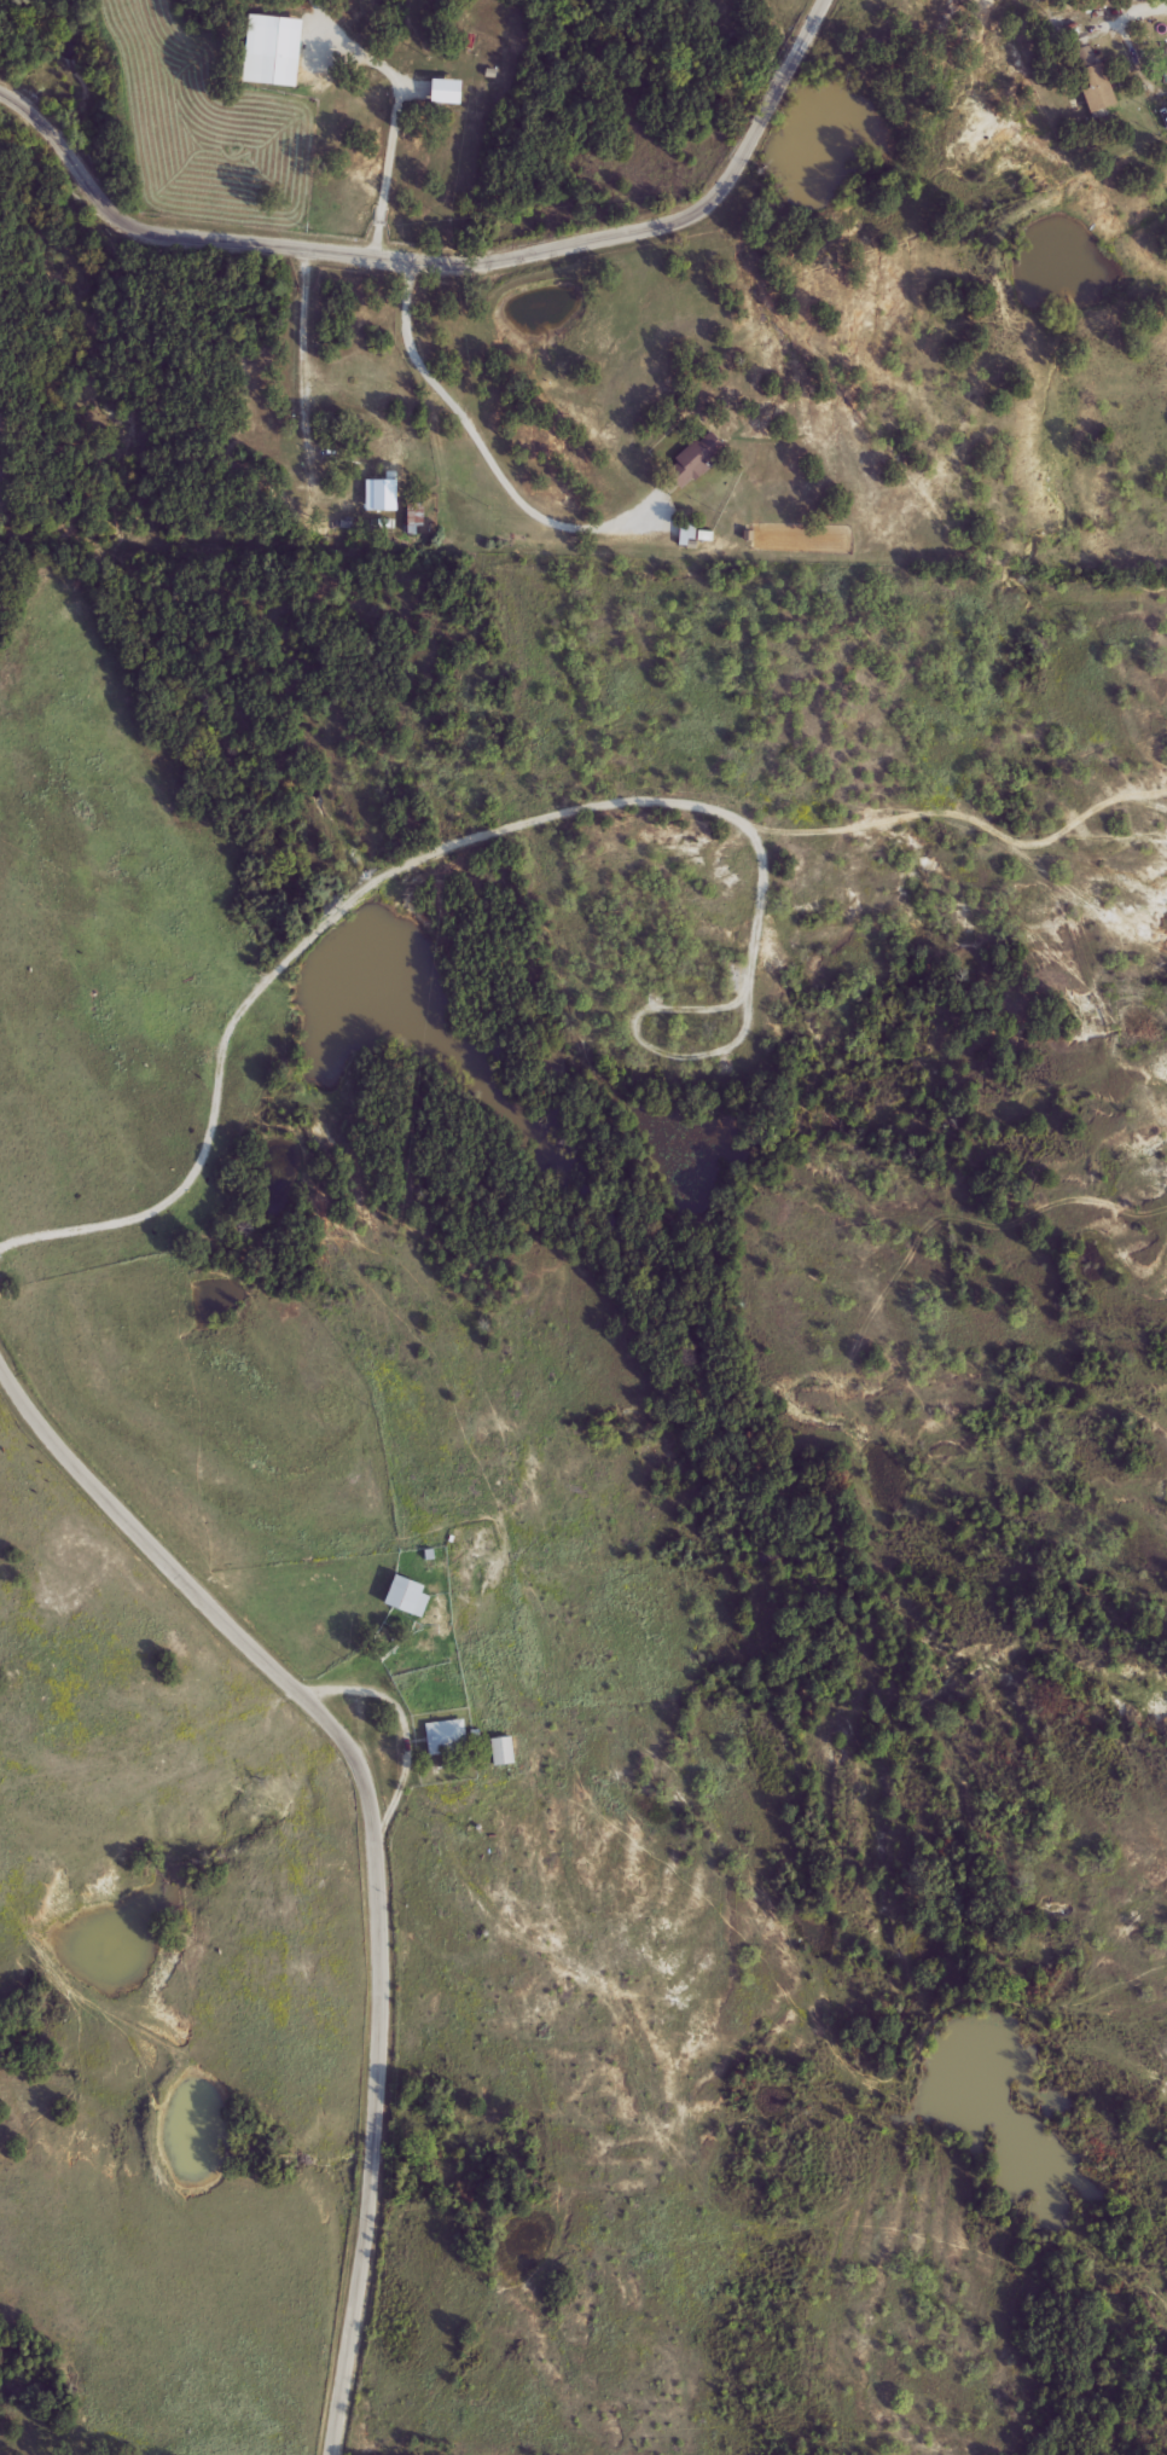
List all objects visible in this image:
building: (274, 36)
road: (790, 65)
building: (1092, 79)
road: (393, 132)
road: (373, 257)
road: (489, 448)
building: (693, 458)
building: (416, 517)
road: (367, 883)
road: (634, 1045)
building: (408, 1596)
road: (402, 1729)
building: (446, 1737)
building: (503, 1751)
road: (371, 1844)

